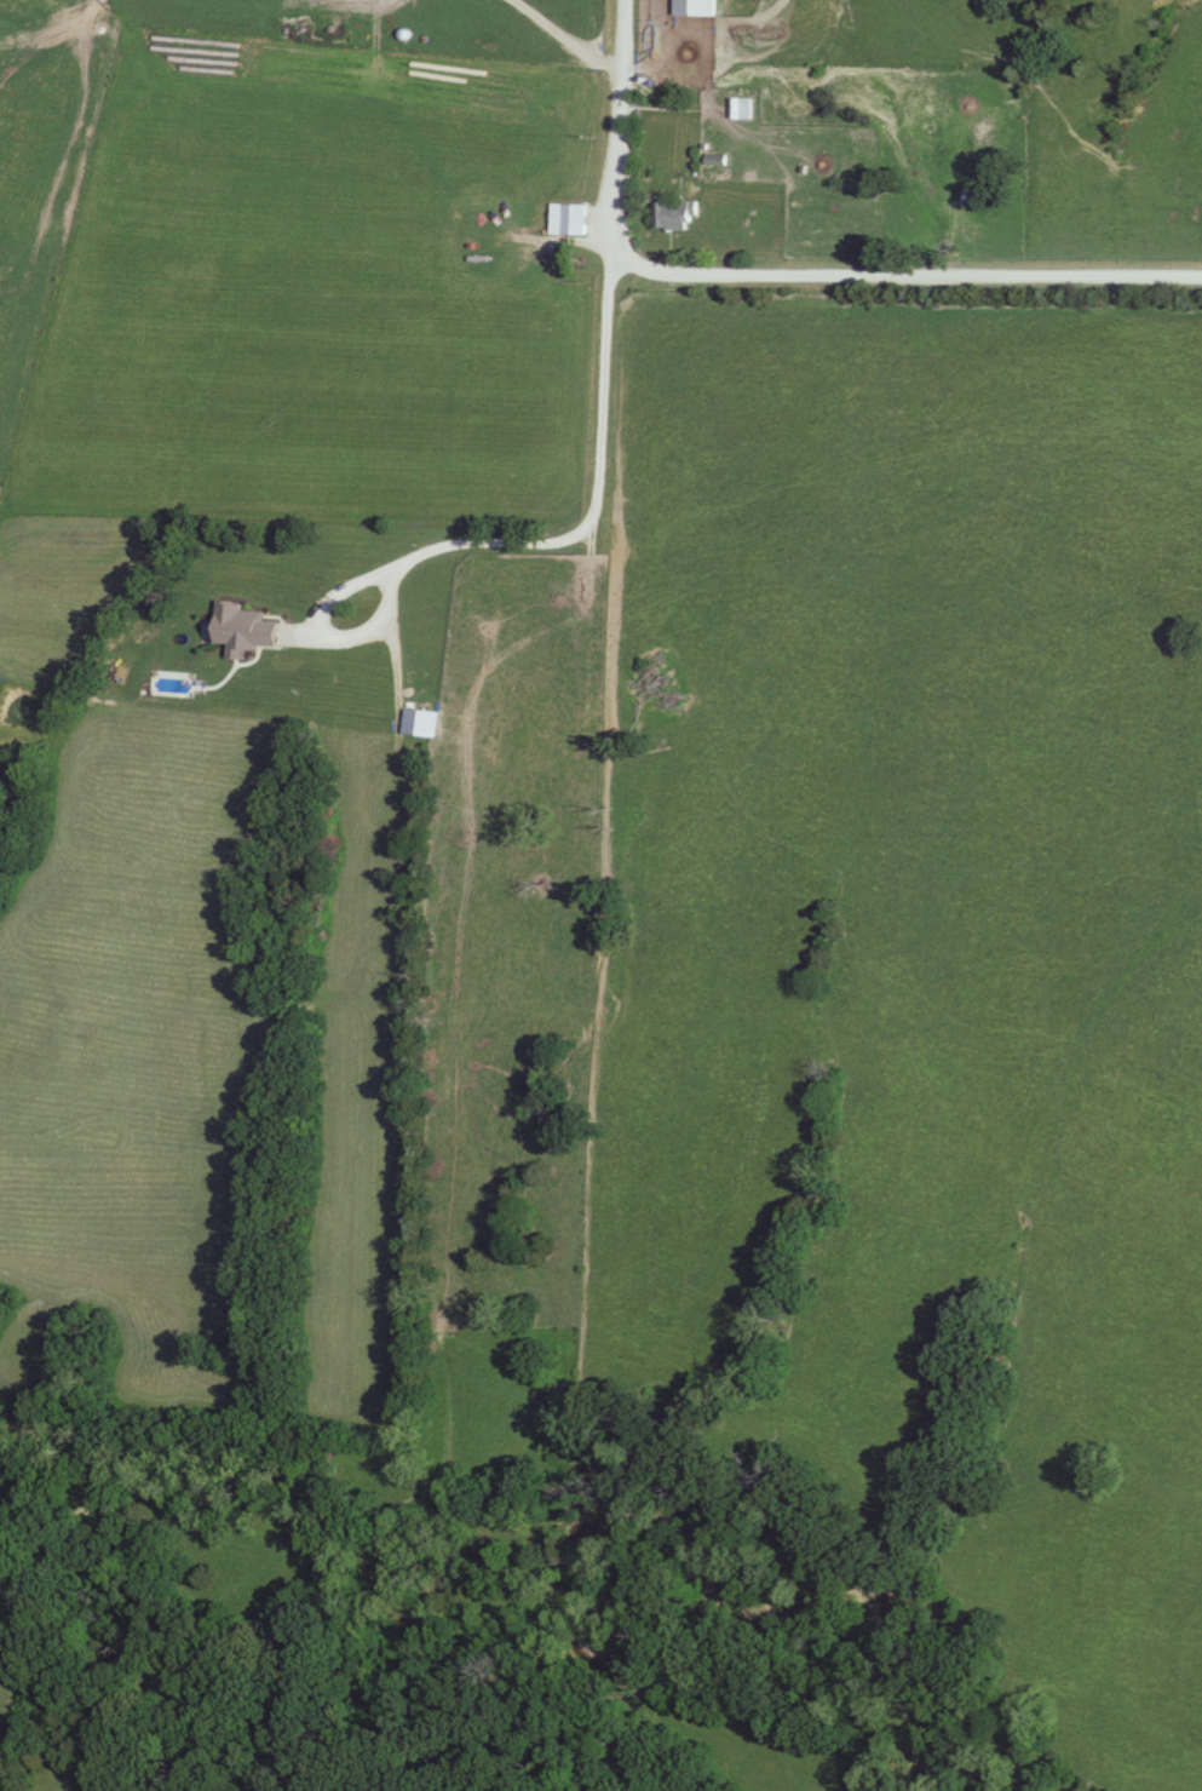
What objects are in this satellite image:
building: (694, 8)
road: (568, 39)
building: (675, 214)
building: (569, 220)
road: (782, 274)
road: (513, 541)
building: (420, 724)

